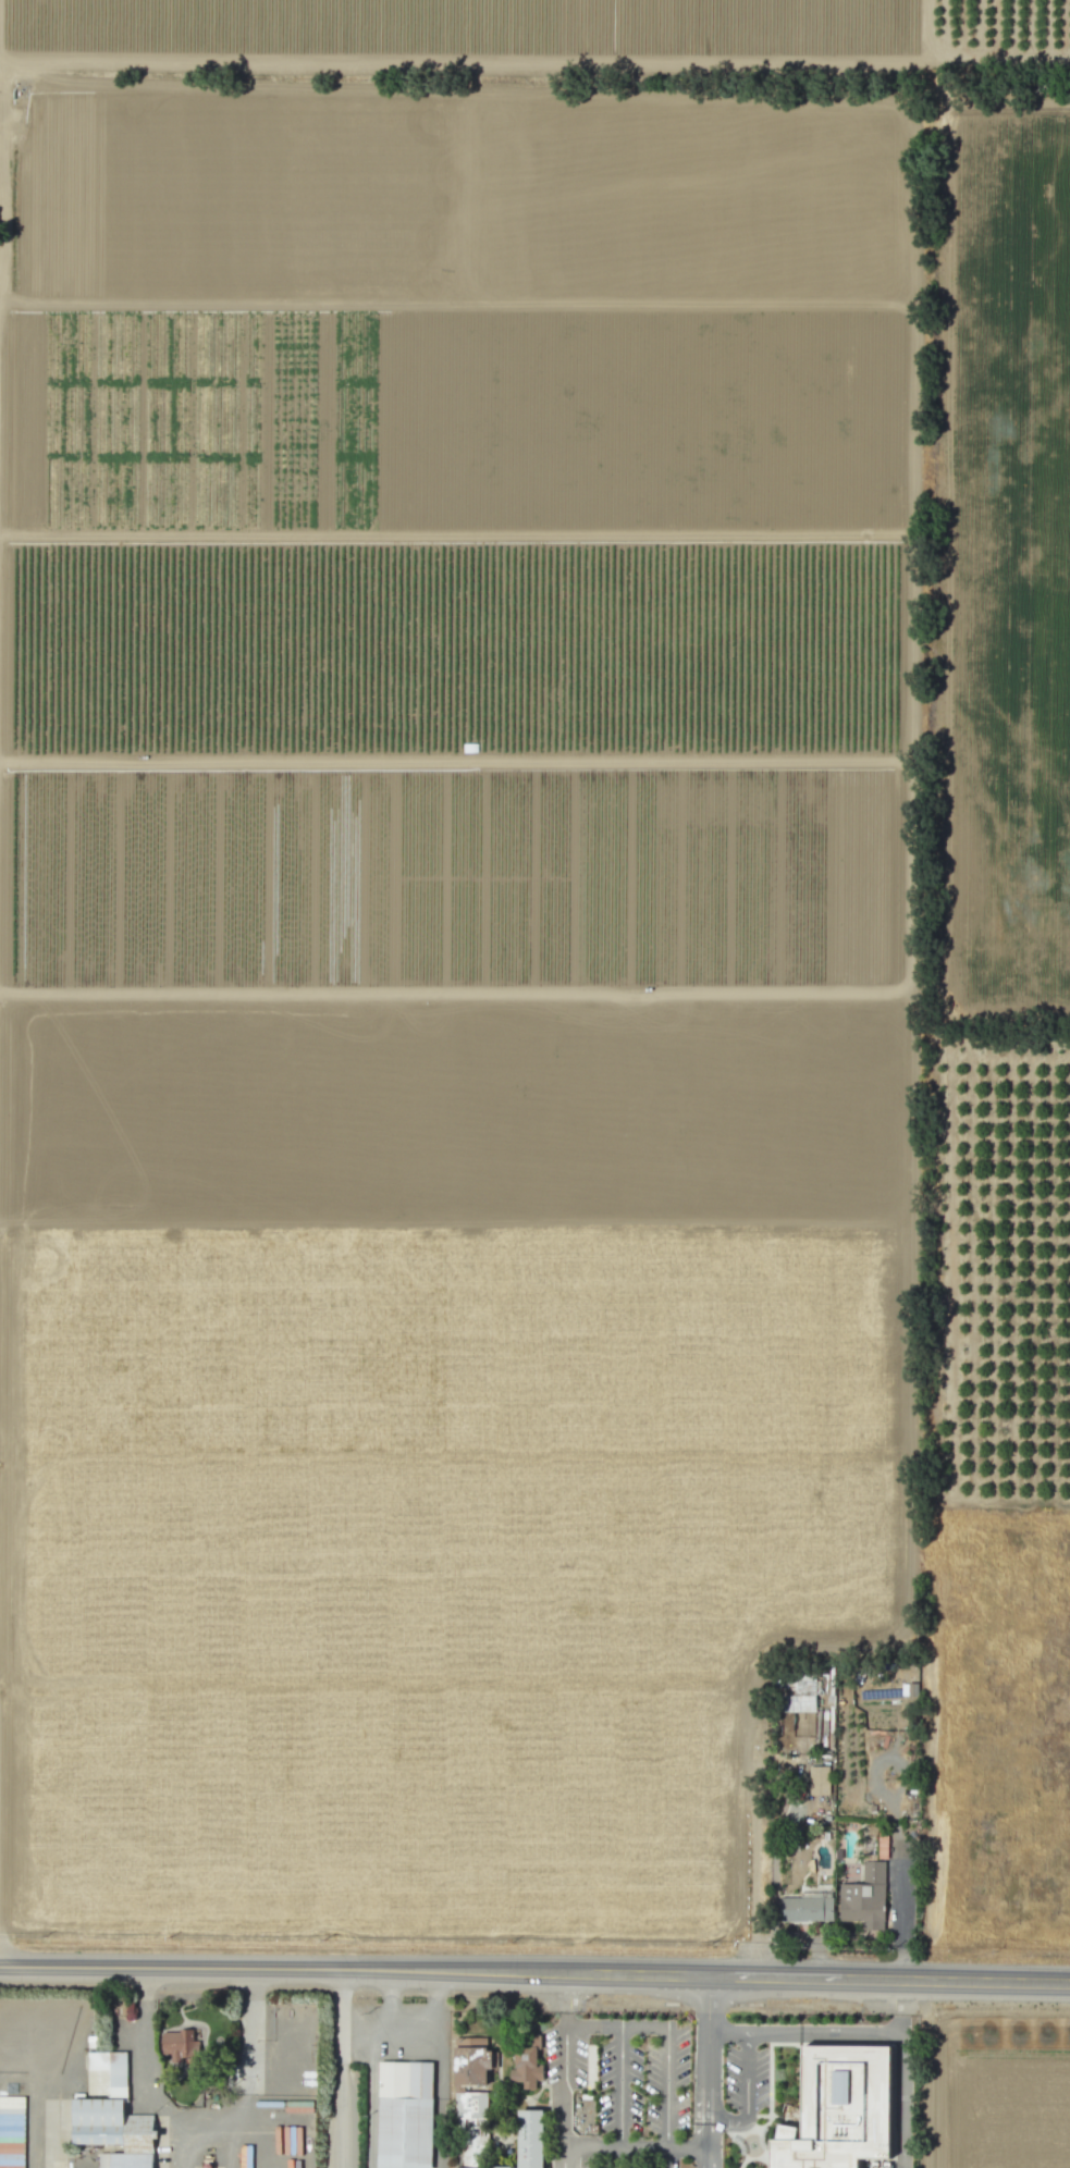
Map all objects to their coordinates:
building: (817, 1781)
building: (881, 1845)
road: (773, 1865)
road: (752, 1872)
building: (863, 1897)
building: (805, 1908)
road: (895, 1908)
road: (284, 1969)
road: (819, 1979)
road: (567, 1999)
road: (708, 2004)
road: (431, 2021)
road: (594, 2027)
road: (644, 2028)
road: (871, 2032)
road: (398, 2034)
building: (179, 2043)
building: (527, 2064)
road: (339, 2069)
building: (470, 2081)
road: (620, 2086)
road: (667, 2087)
road: (702, 2089)
crop: (1003, 2090)
road: (564, 2096)
road: (746, 2097)
building: (838, 2108)
building: (111, 2115)
building: (404, 2115)
road: (205, 2118)
building: (11, 2132)
building: (529, 2139)
road: (592, 2145)
road: (662, 2146)
road: (703, 2156)
building: (469, 2167)
road: (703, 2167)

